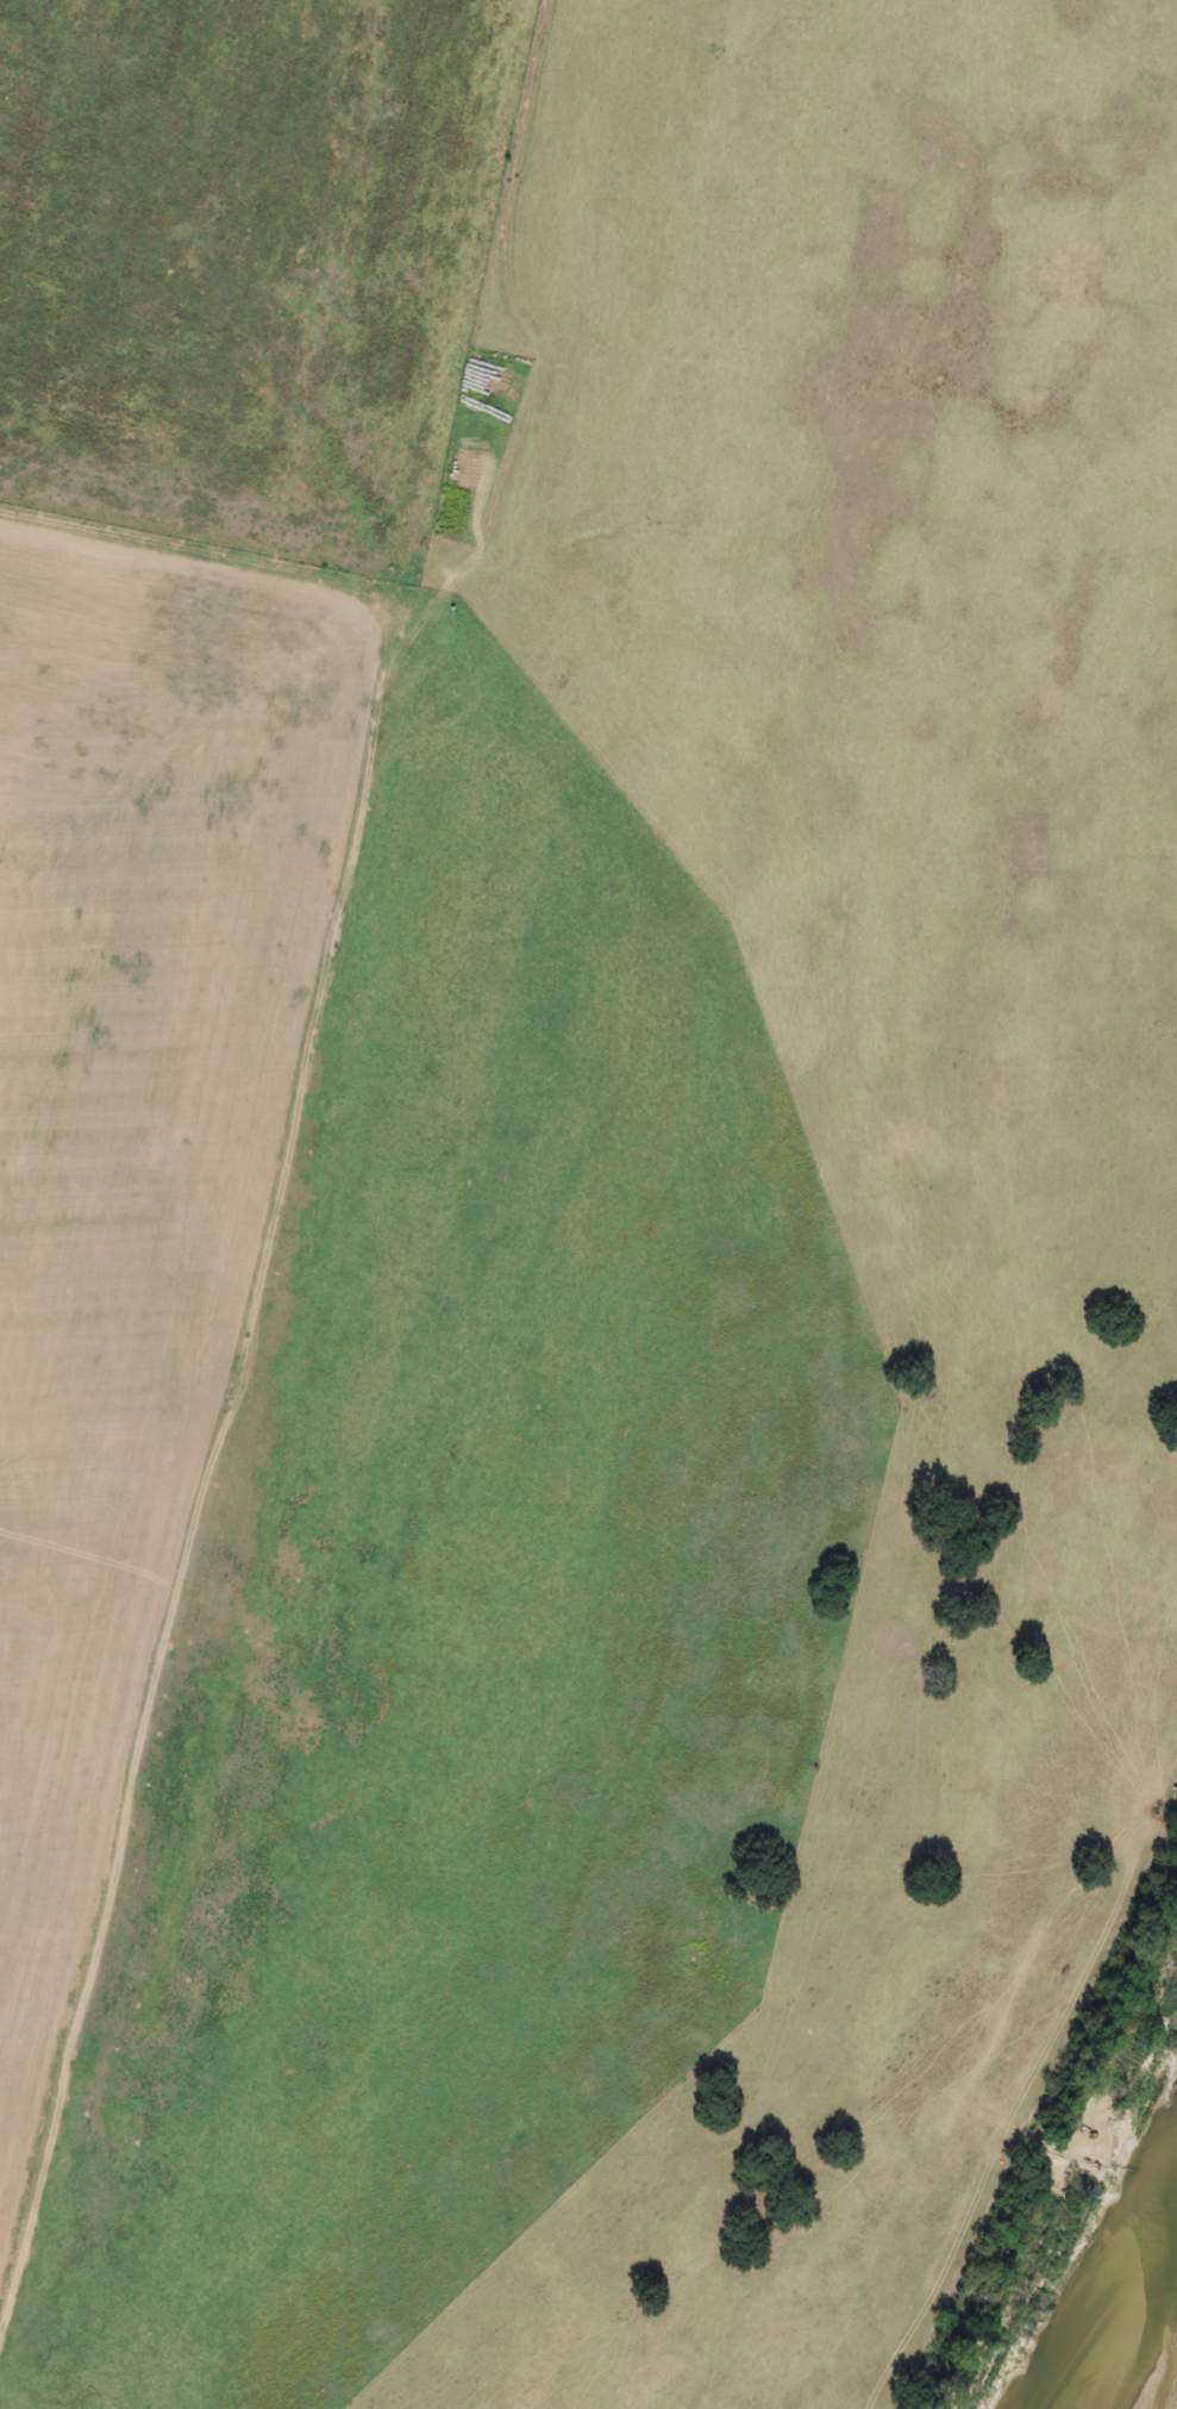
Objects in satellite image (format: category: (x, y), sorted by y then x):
river: (1119, 2313)

